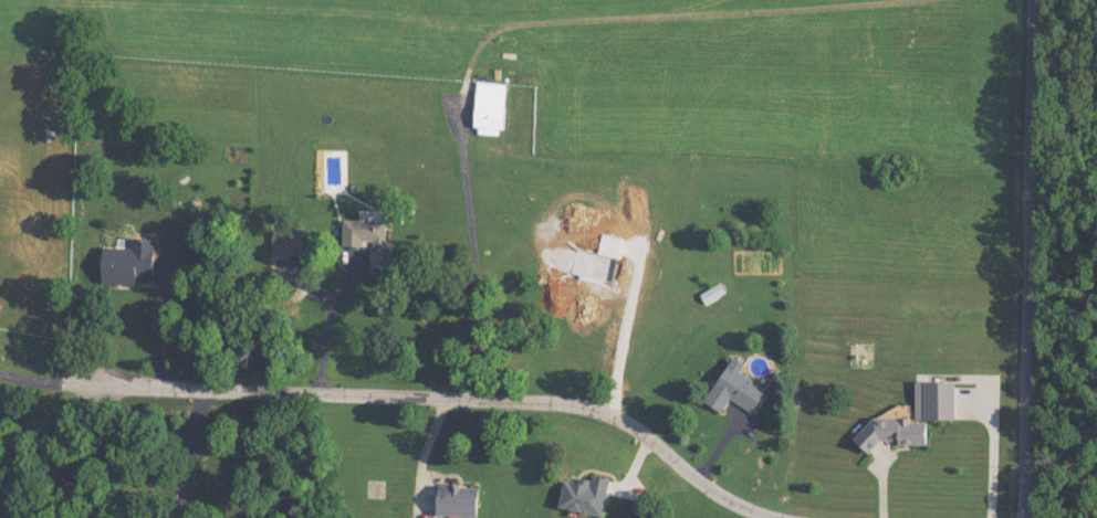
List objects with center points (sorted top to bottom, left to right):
building: (491, 107)
building: (369, 237)
road: (1031, 258)
building: (129, 262)
building: (709, 294)
road: (30, 378)
building: (738, 389)
road: (433, 395)
building: (928, 399)
building: (587, 494)
building: (460, 499)

